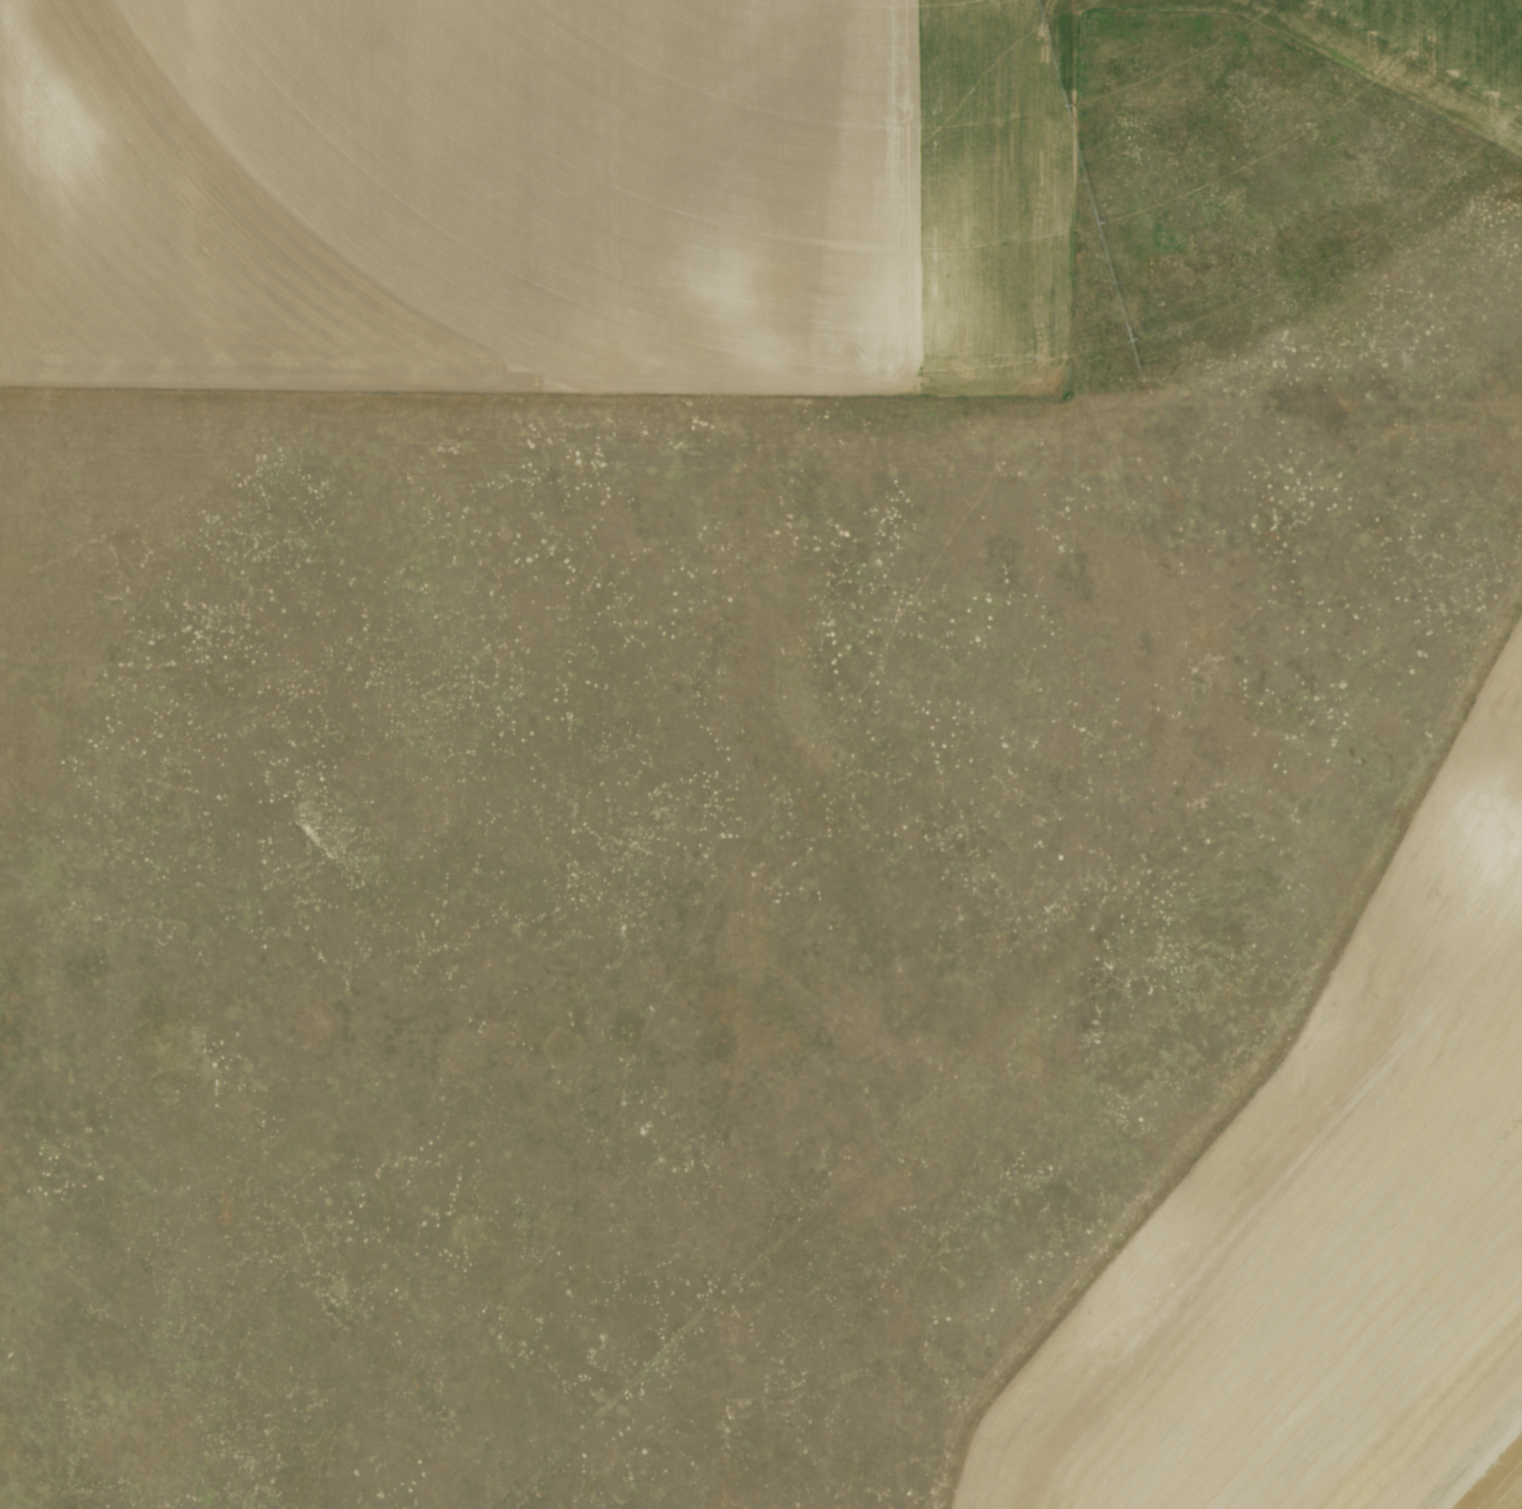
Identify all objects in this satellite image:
crop: (722, 190)
crop: (1329, 1229)

